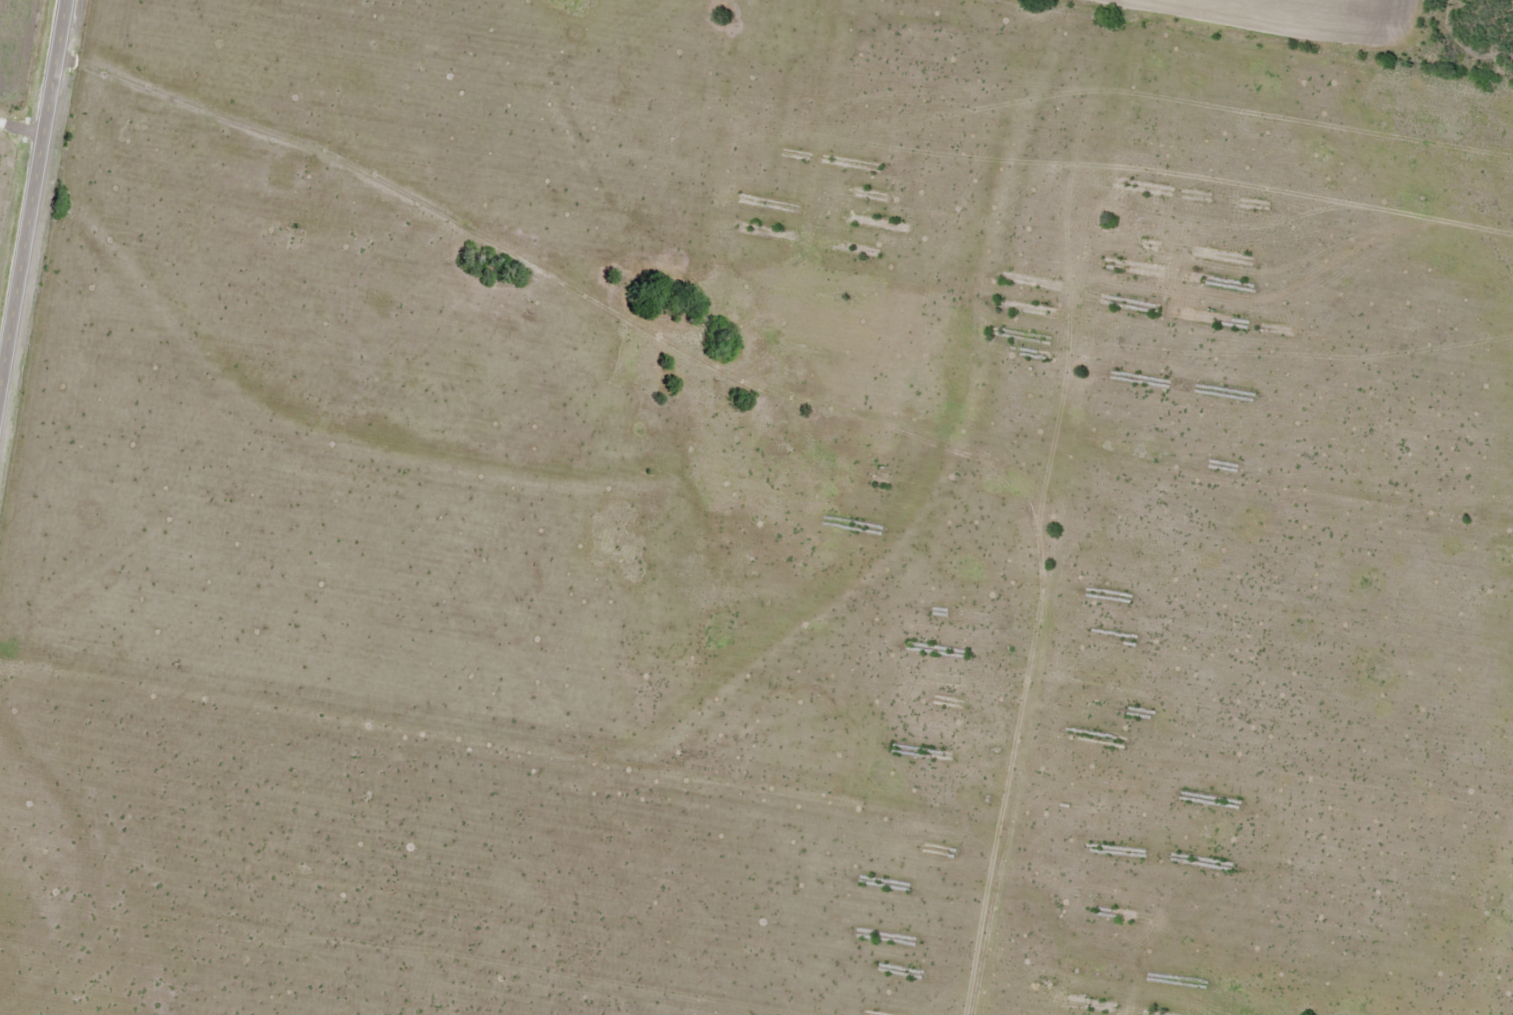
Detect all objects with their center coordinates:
road: (21, 134)
road: (35, 205)

